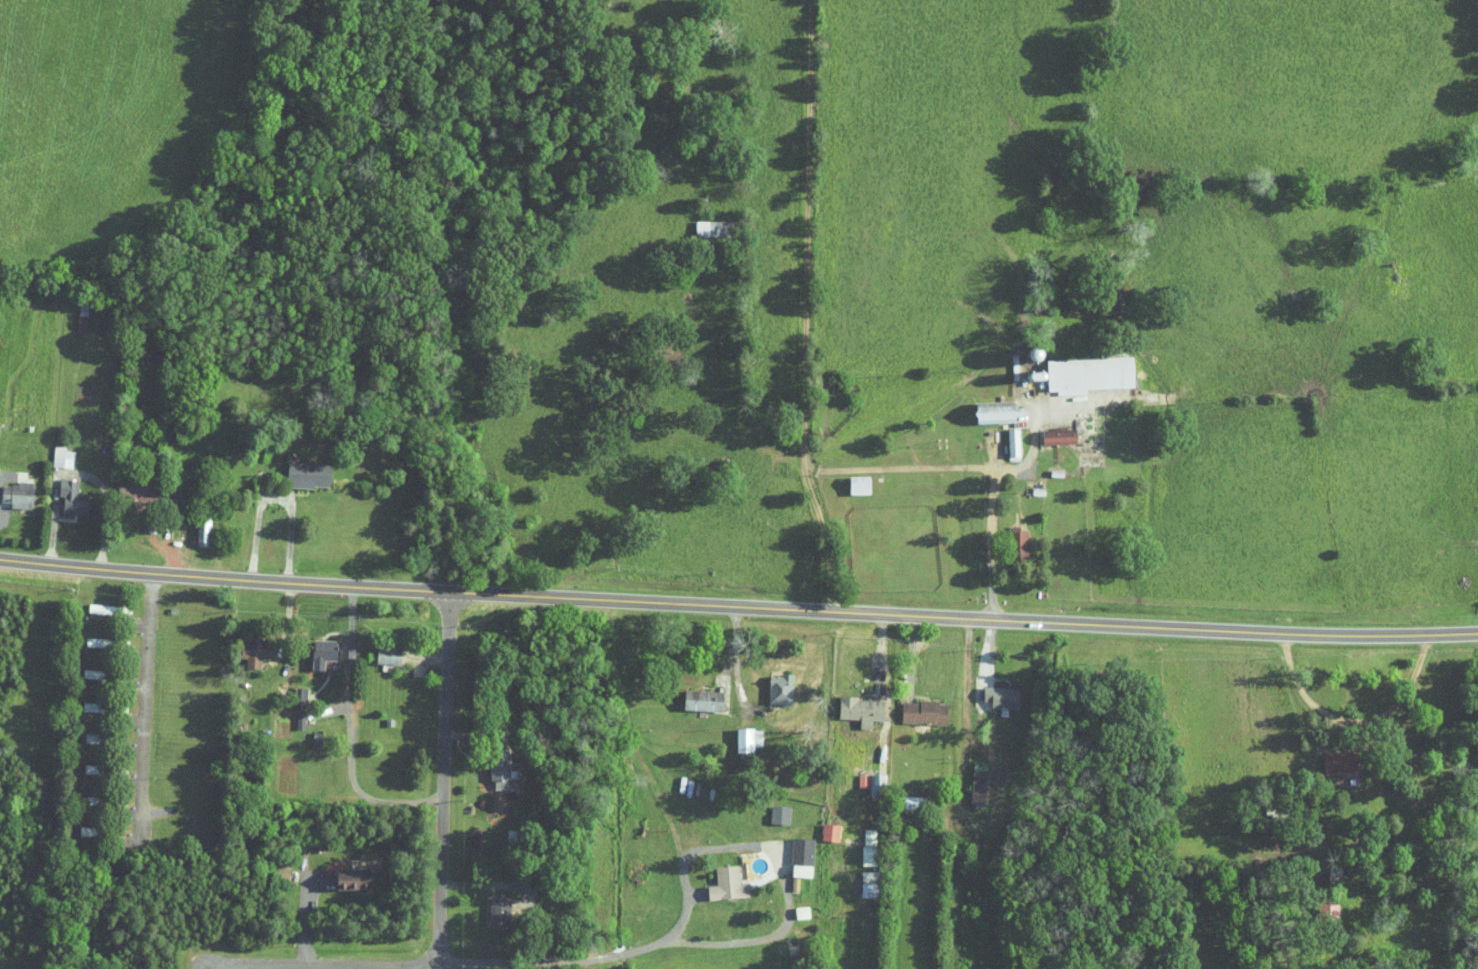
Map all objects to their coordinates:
building: (703, 221)
road: (804, 307)
building: (1078, 368)
building: (1050, 431)
building: (1003, 437)
road: (1034, 445)
building: (51, 451)
road: (897, 466)
building: (298, 468)
building: (850, 478)
building: (11, 488)
building: (131, 489)
building: (62, 491)
road: (107, 501)
road: (54, 519)
road: (292, 519)
building: (193, 524)
building: (1009, 537)
road: (993, 544)
road: (168, 552)
road: (211, 556)
road: (738, 607)
road: (348, 618)
road: (735, 635)
building: (246, 644)
building: (313, 646)
building: (379, 648)
road: (912, 653)
road: (881, 654)
building: (770, 683)
building: (290, 690)
building: (992, 691)
building: (693, 694)
building: (852, 703)
building: (914, 706)
road: (146, 708)
road: (965, 708)
road: (1342, 714)
building: (738, 733)
road: (473, 737)
road: (1305, 754)
building: (1331, 755)
building: (489, 762)
road: (350, 764)
building: (862, 776)
building: (969, 776)
road: (445, 780)
building: (769, 808)
building: (820, 826)
building: (859, 840)
building: (792, 851)
road: (682, 868)
building: (344, 872)
building: (717, 878)
building: (859, 878)
road: (468, 889)
building: (488, 904)
building: (792, 906)
road: (301, 917)
road: (321, 965)

